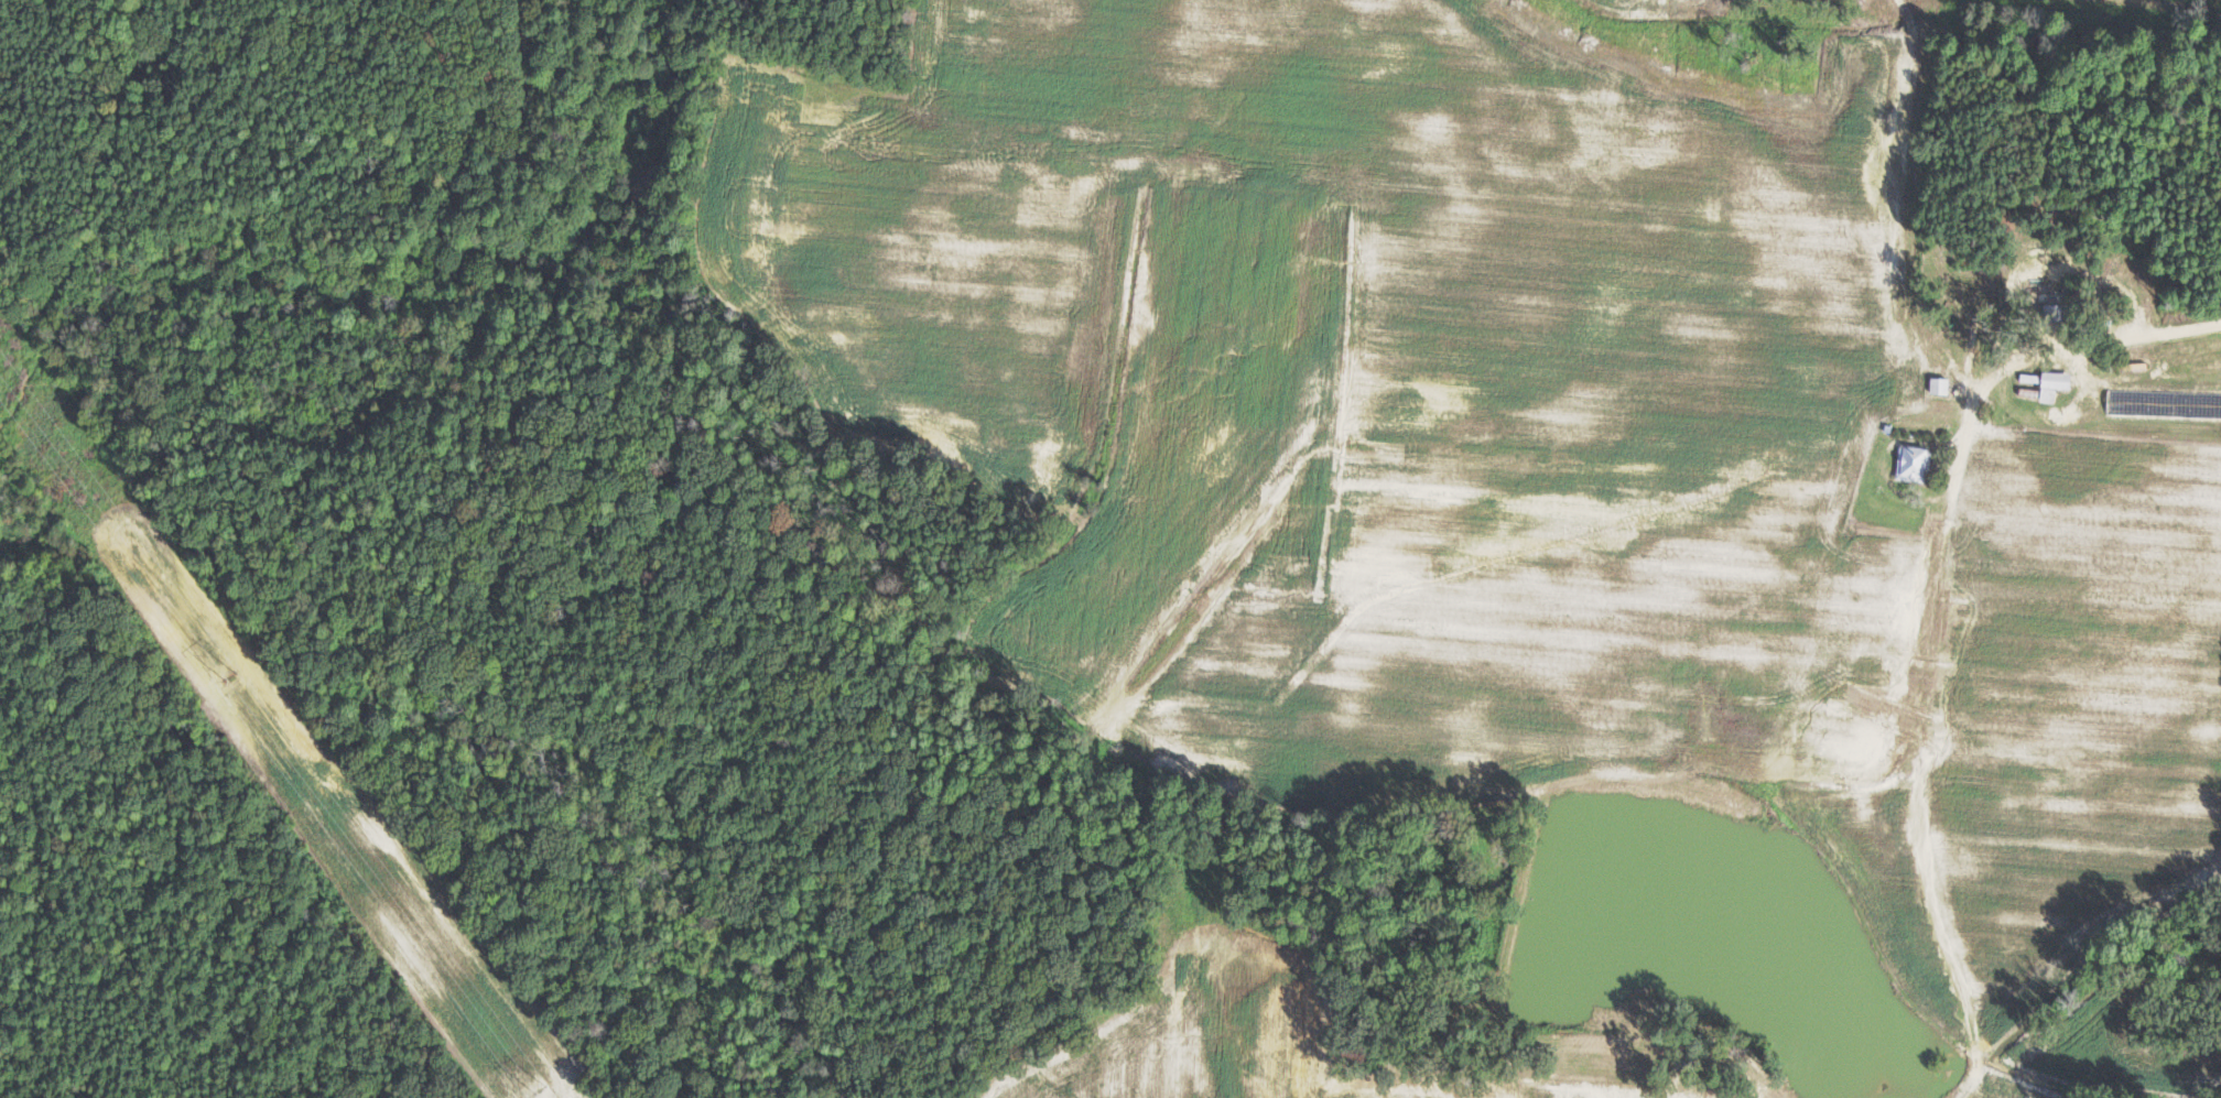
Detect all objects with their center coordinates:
road: (2149, 333)
road: (2001, 372)
building: (1943, 384)
building: (2052, 385)
building: (1919, 461)
power tower: (224, 680)
power tower: (534, 1096)

